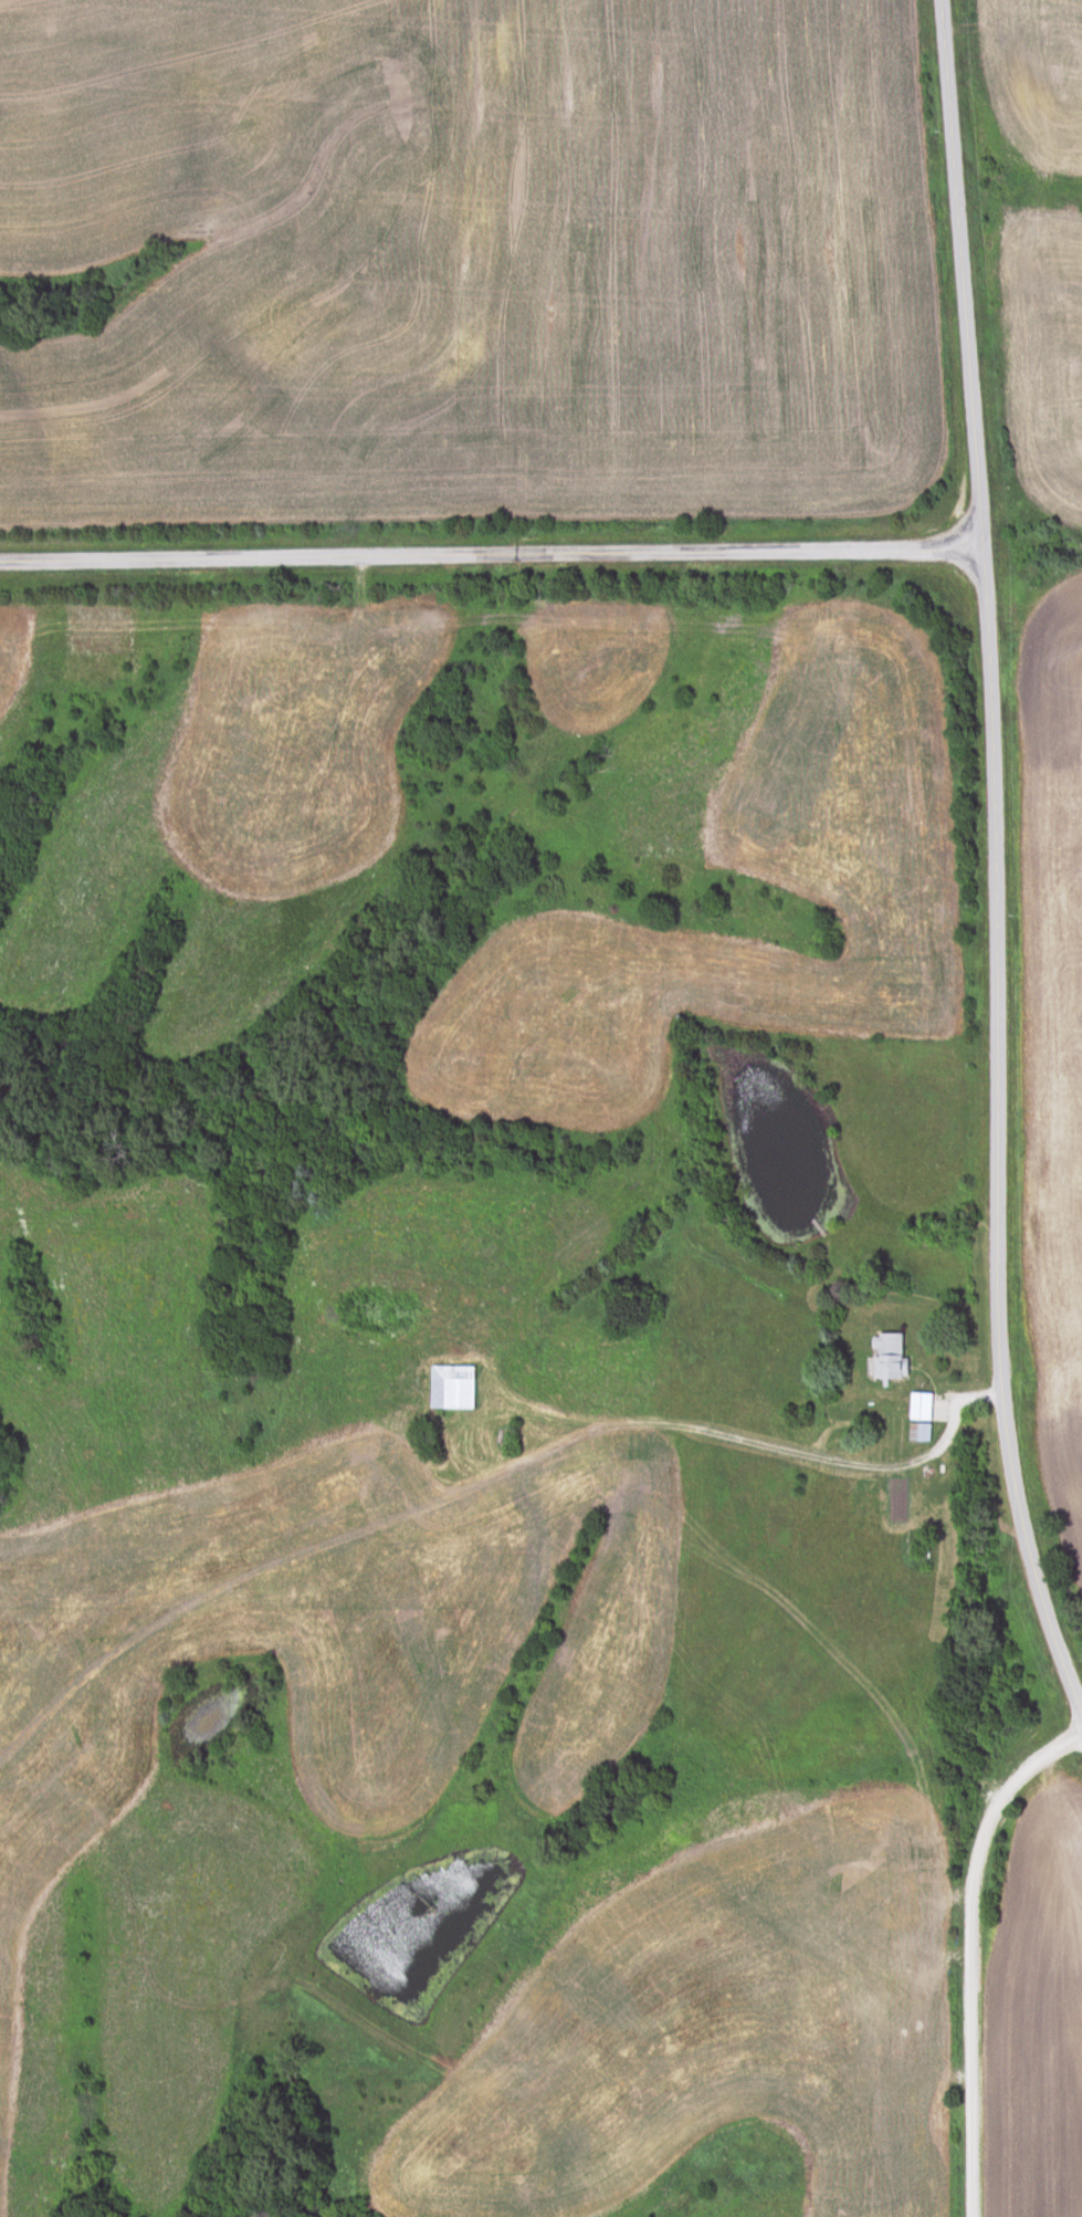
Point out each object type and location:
road: (491, 551)
road: (994, 847)
building: (890, 1356)
building: (453, 1388)
building: (922, 1416)
road: (974, 1952)

